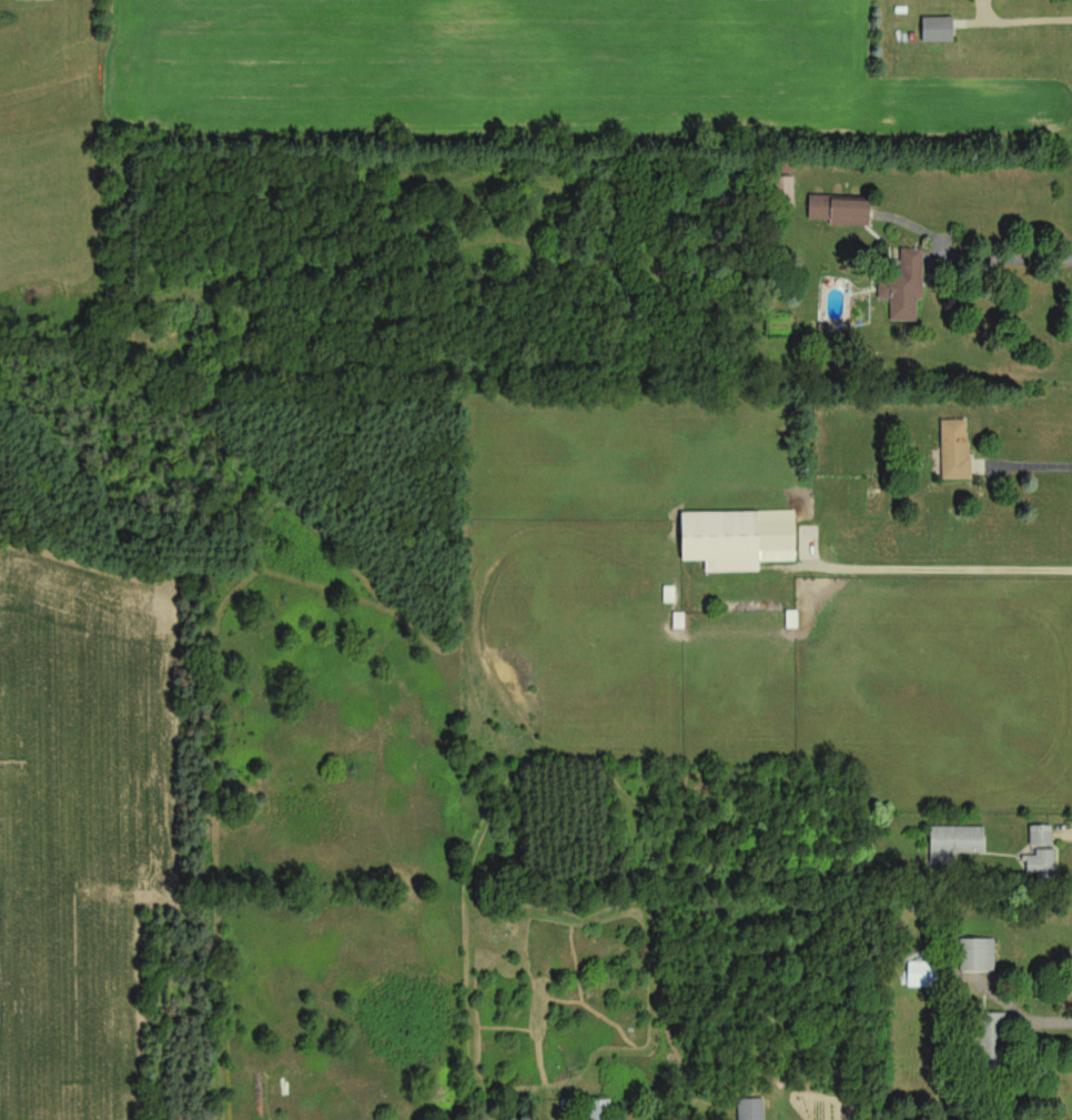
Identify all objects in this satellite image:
building: (43, 0)
road: (1020, 22)
building: (937, 31)
airport runway: (249, 59)
building: (783, 188)
building: (838, 212)
road: (1003, 253)
building: (902, 287)
building: (954, 452)
road: (1029, 464)
building: (737, 541)
road: (954, 569)
crop: (80, 831)
building: (1040, 838)
building: (954, 845)
building: (1040, 866)
building: (977, 957)
building: (923, 977)
road: (1018, 1016)
building: (991, 1042)
building: (750, 1110)
building: (599, 1111)

